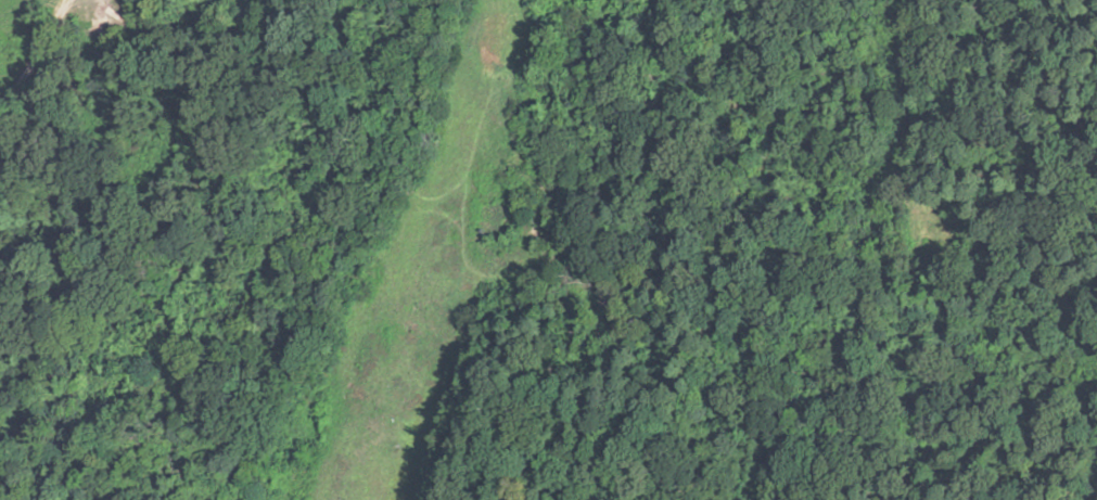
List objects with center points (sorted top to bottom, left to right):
road: (28, 29)
road: (965, 111)
road: (48, 432)

